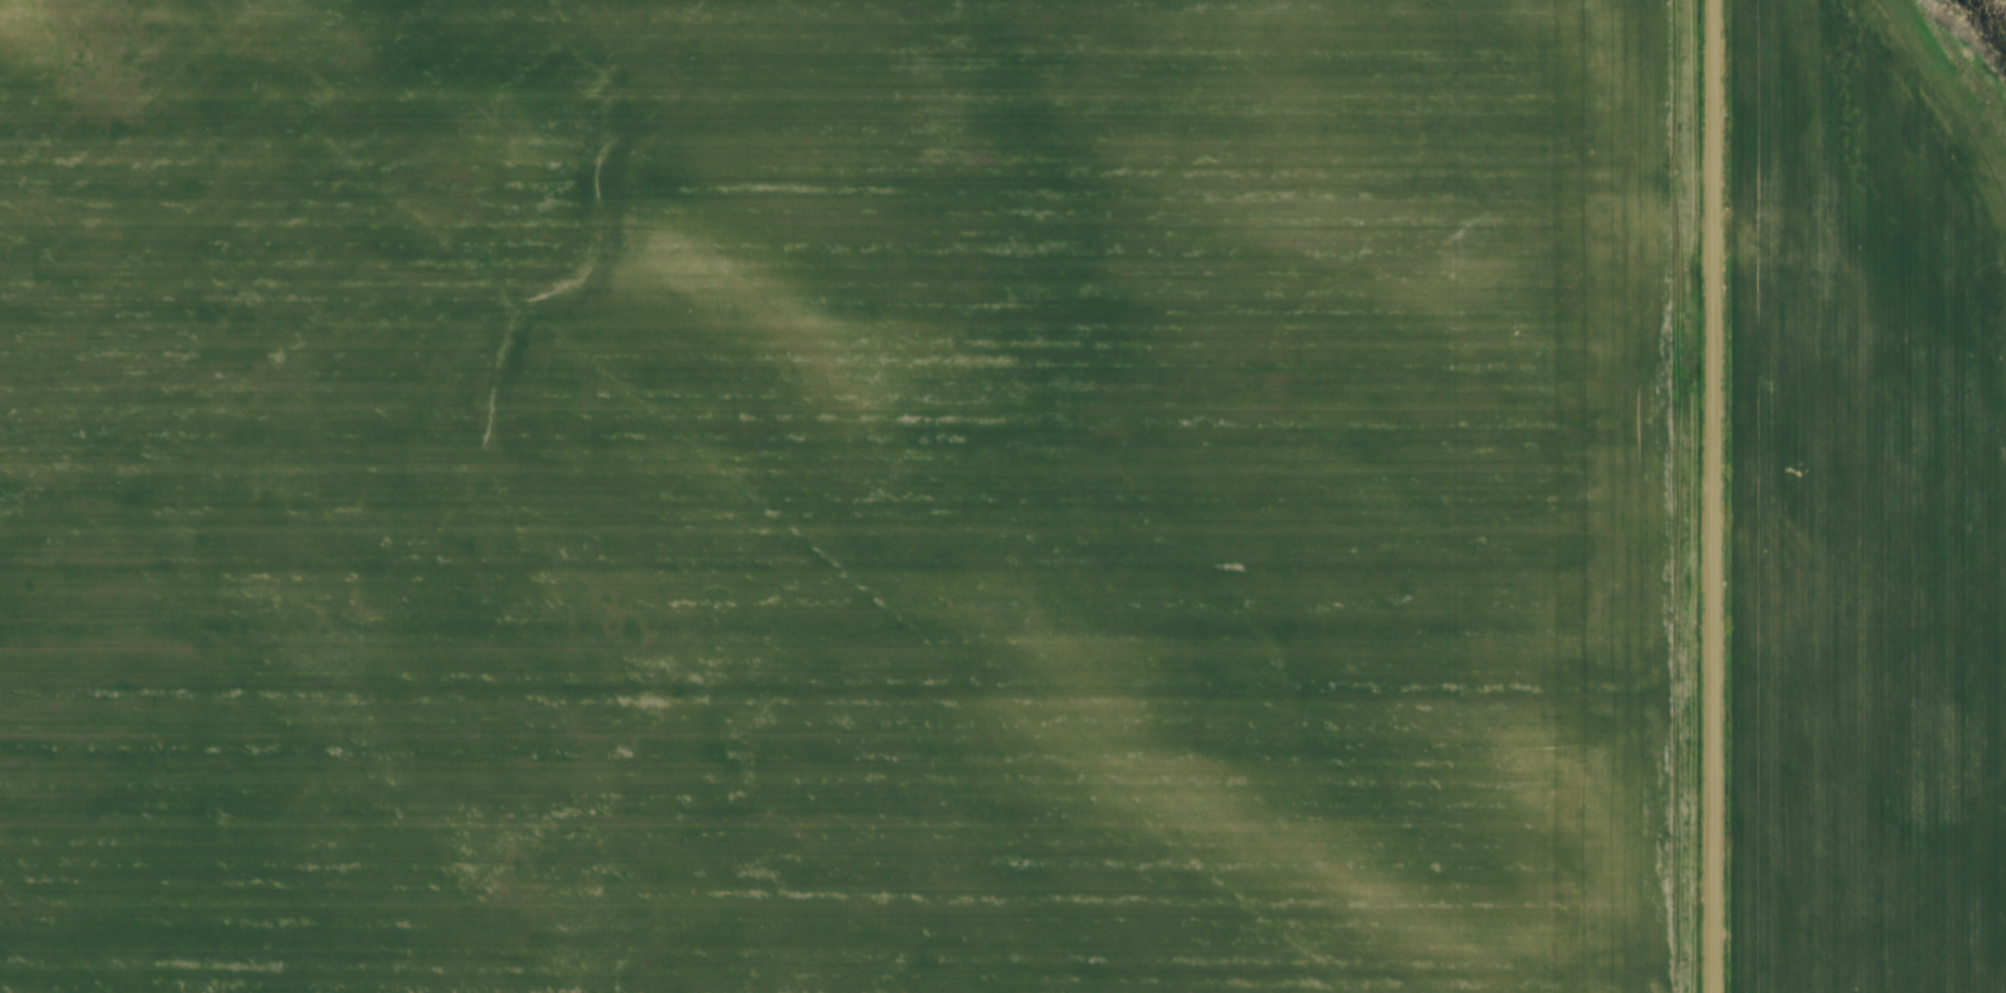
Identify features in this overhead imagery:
road: (1714, 496)

